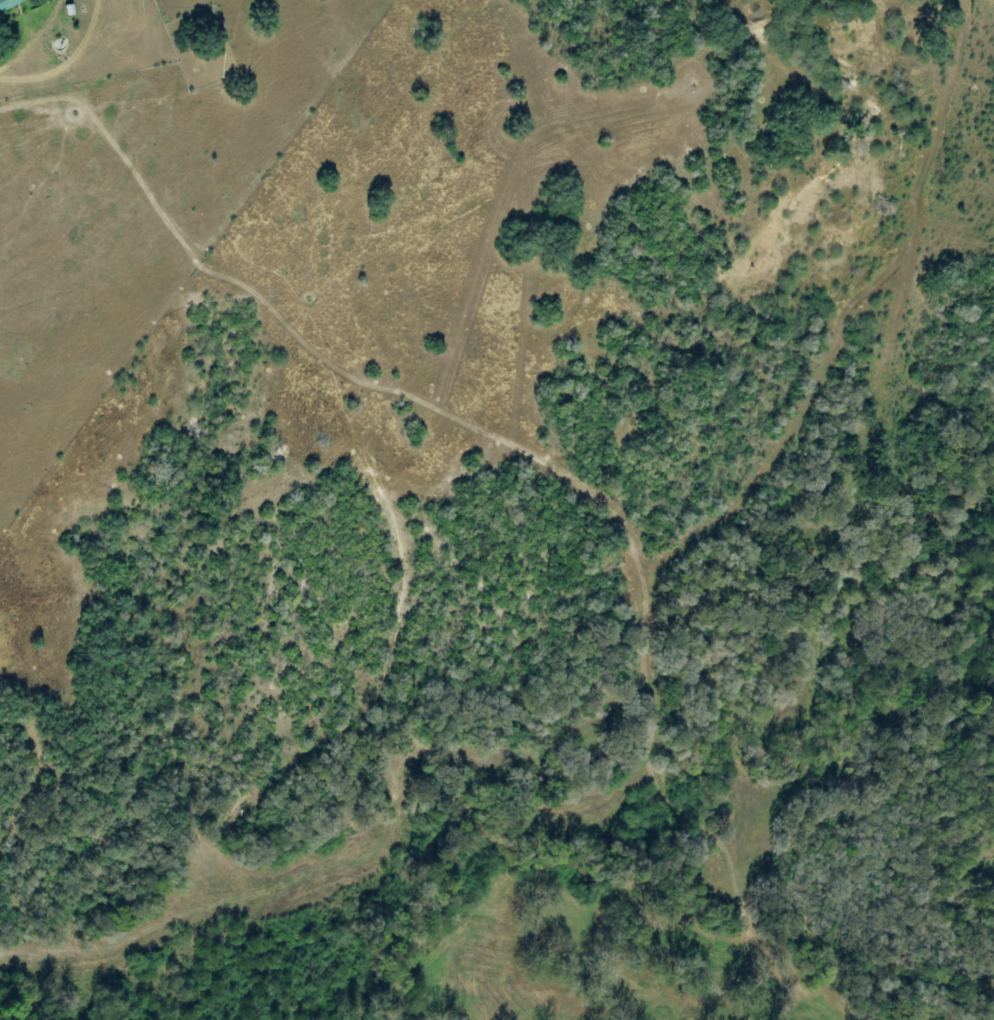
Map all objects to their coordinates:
road: (13, 5)

